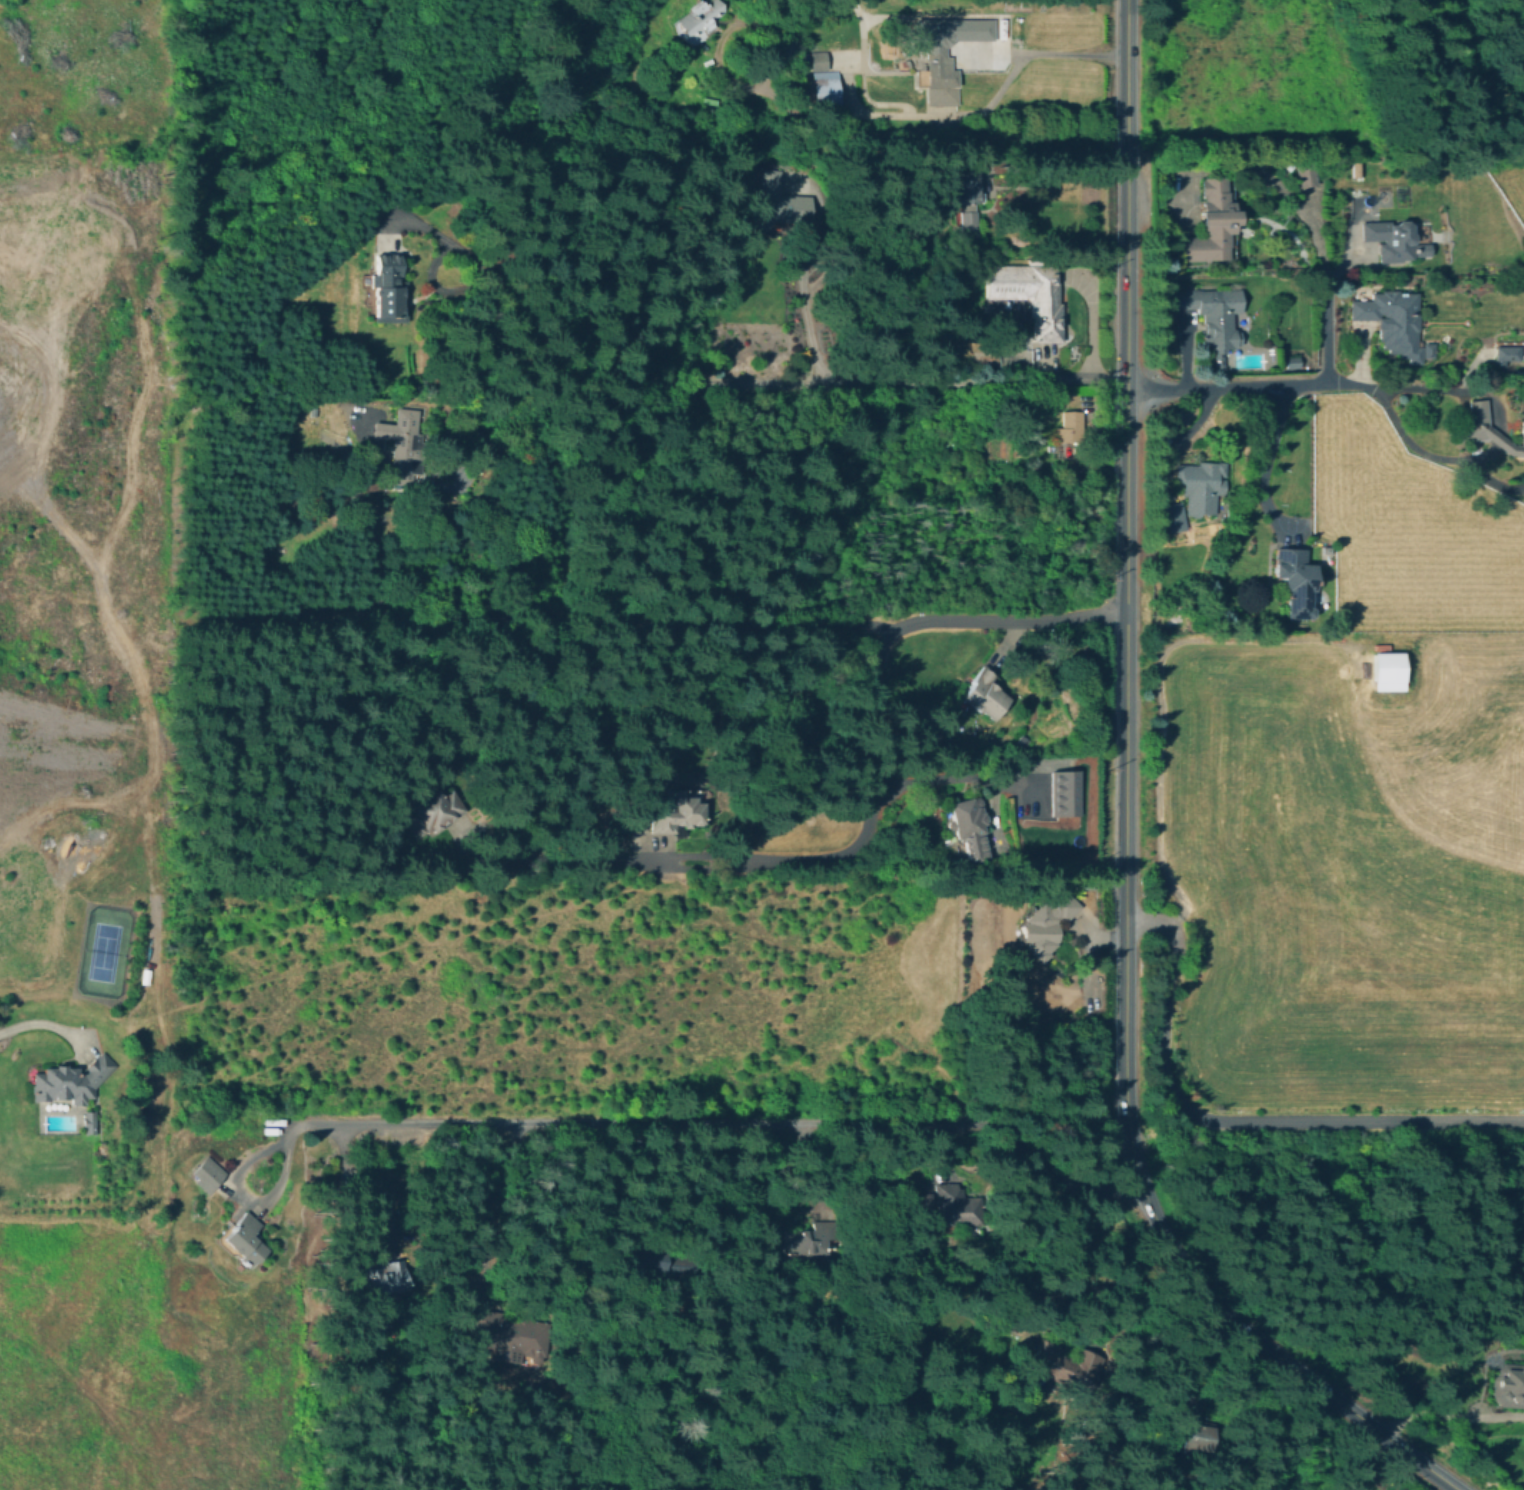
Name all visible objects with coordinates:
building: (696, 18)
crop: (123, 31)
building: (812, 60)
building: (940, 67)
building: (825, 92)
road: (919, 116)
road: (1055, 162)
building: (1356, 170)
building: (1306, 174)
crop: (1508, 178)
building: (961, 188)
road: (1286, 193)
building: (779, 204)
building: (967, 222)
building: (1210, 223)
building: (1392, 239)
building: (382, 284)
building: (1028, 295)
building: (1213, 316)
building: (1393, 321)
building: (1429, 351)
building: (1507, 354)
building: (1292, 362)
road: (562, 374)
road: (919, 384)
road: (1301, 384)
road: (1453, 389)
building: (1068, 427)
building: (1486, 429)
road: (1404, 435)
road: (1499, 439)
building: (398, 444)
road: (1265, 456)
building: (1200, 485)
building: (1173, 516)
crop: (1408, 530)
building: (1295, 582)
road: (1126, 592)
road: (574, 623)
building: (1384, 671)
building: (984, 695)
road: (945, 777)
building: (1063, 794)
road: (871, 797)
building: (678, 810)
building: (432, 811)
building: (968, 829)
crop: (1330, 870)
building: (1047, 922)
park: (104, 952)
road: (45, 1023)
building: (72, 1081)
road: (1237, 1118)
building: (89, 1122)
road: (718, 1124)
building: (209, 1172)
road: (368, 1182)
building: (816, 1203)
building: (946, 1206)
road: (483, 1207)
building: (244, 1239)
building: (807, 1239)
building: (648, 1261)
building: (383, 1277)
road: (1060, 1333)
building: (506, 1335)
road: (1276, 1357)
building: (1064, 1367)
building: (1509, 1385)
road: (1449, 1416)
building: (1187, 1432)
building: (1367, 1489)

